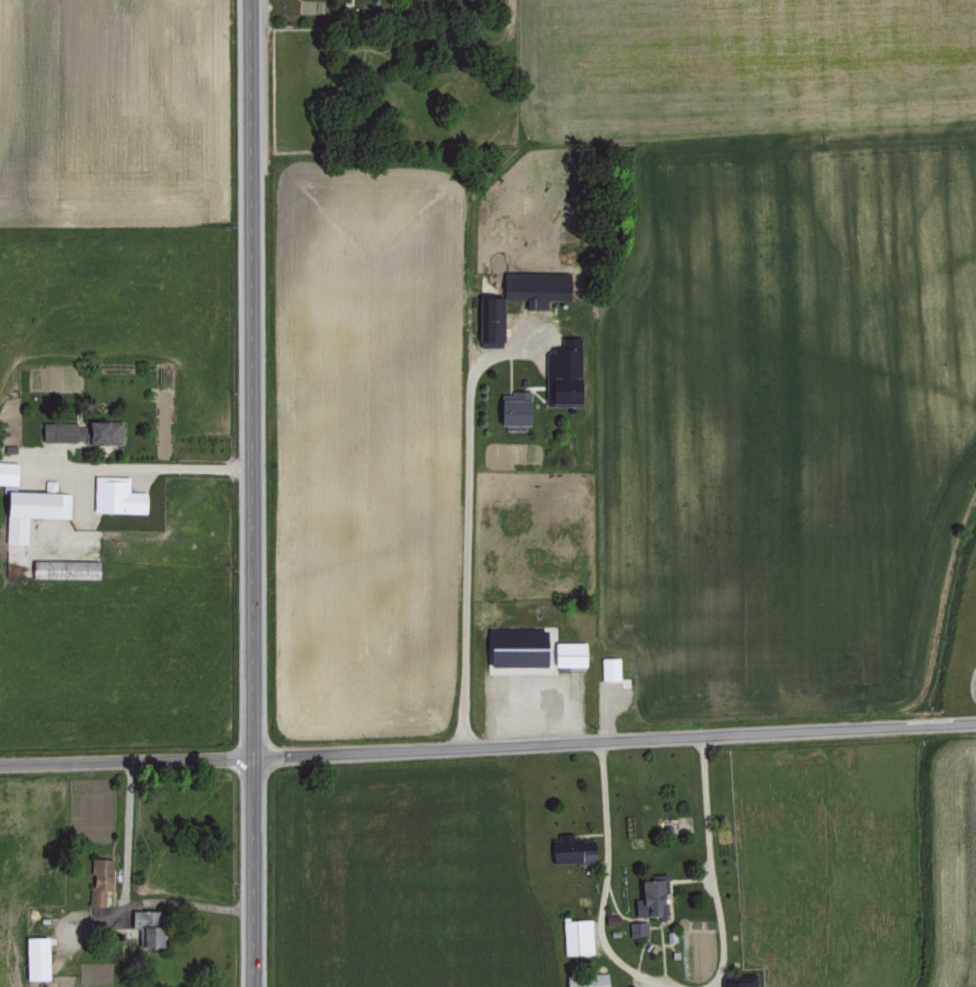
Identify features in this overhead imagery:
road: (306, 26)
building: (534, 286)
building: (490, 316)
building: (563, 372)
building: (512, 408)
building: (82, 430)
road: (124, 467)
building: (8, 471)
road: (250, 493)
building: (116, 494)
building: (31, 508)
road: (467, 536)
building: (63, 567)
building: (515, 645)
building: (568, 652)
building: (609, 666)
road: (488, 746)
building: (570, 847)
road: (708, 864)
building: (99, 878)
road: (603, 887)
building: (650, 896)
road: (145, 900)
building: (146, 925)
building: (637, 927)
building: (576, 935)
building: (35, 956)
building: (586, 979)

